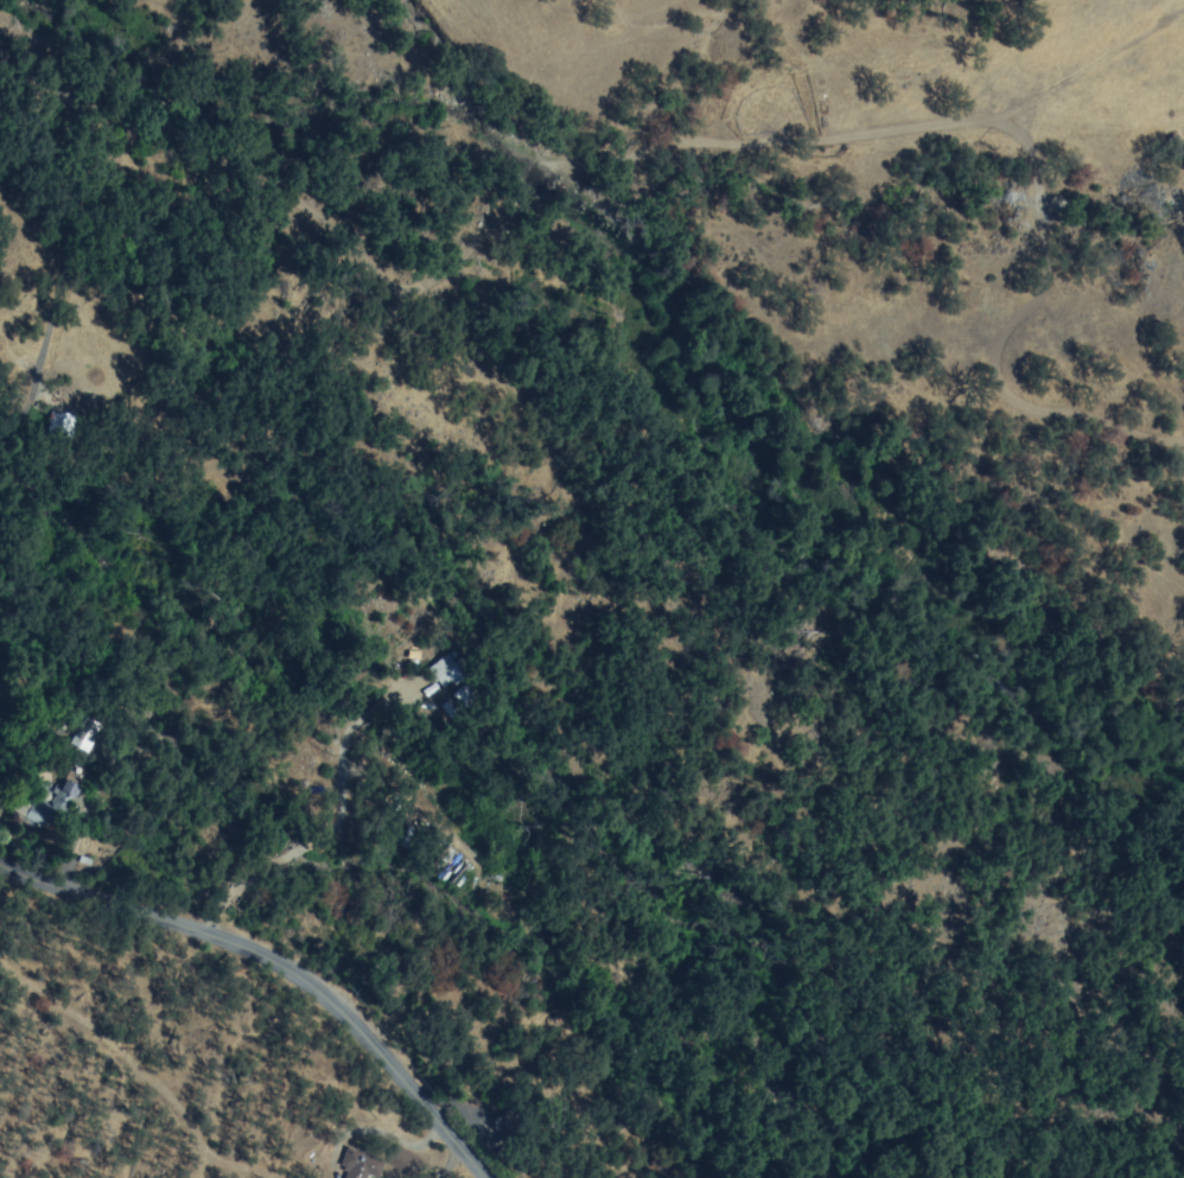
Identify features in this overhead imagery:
river: (293, 148)
road: (369, 298)
river: (835, 491)
building: (459, 699)
road: (279, 964)
building: (489, 1110)
building: (507, 1131)
building: (501, 1158)
building: (359, 1165)

